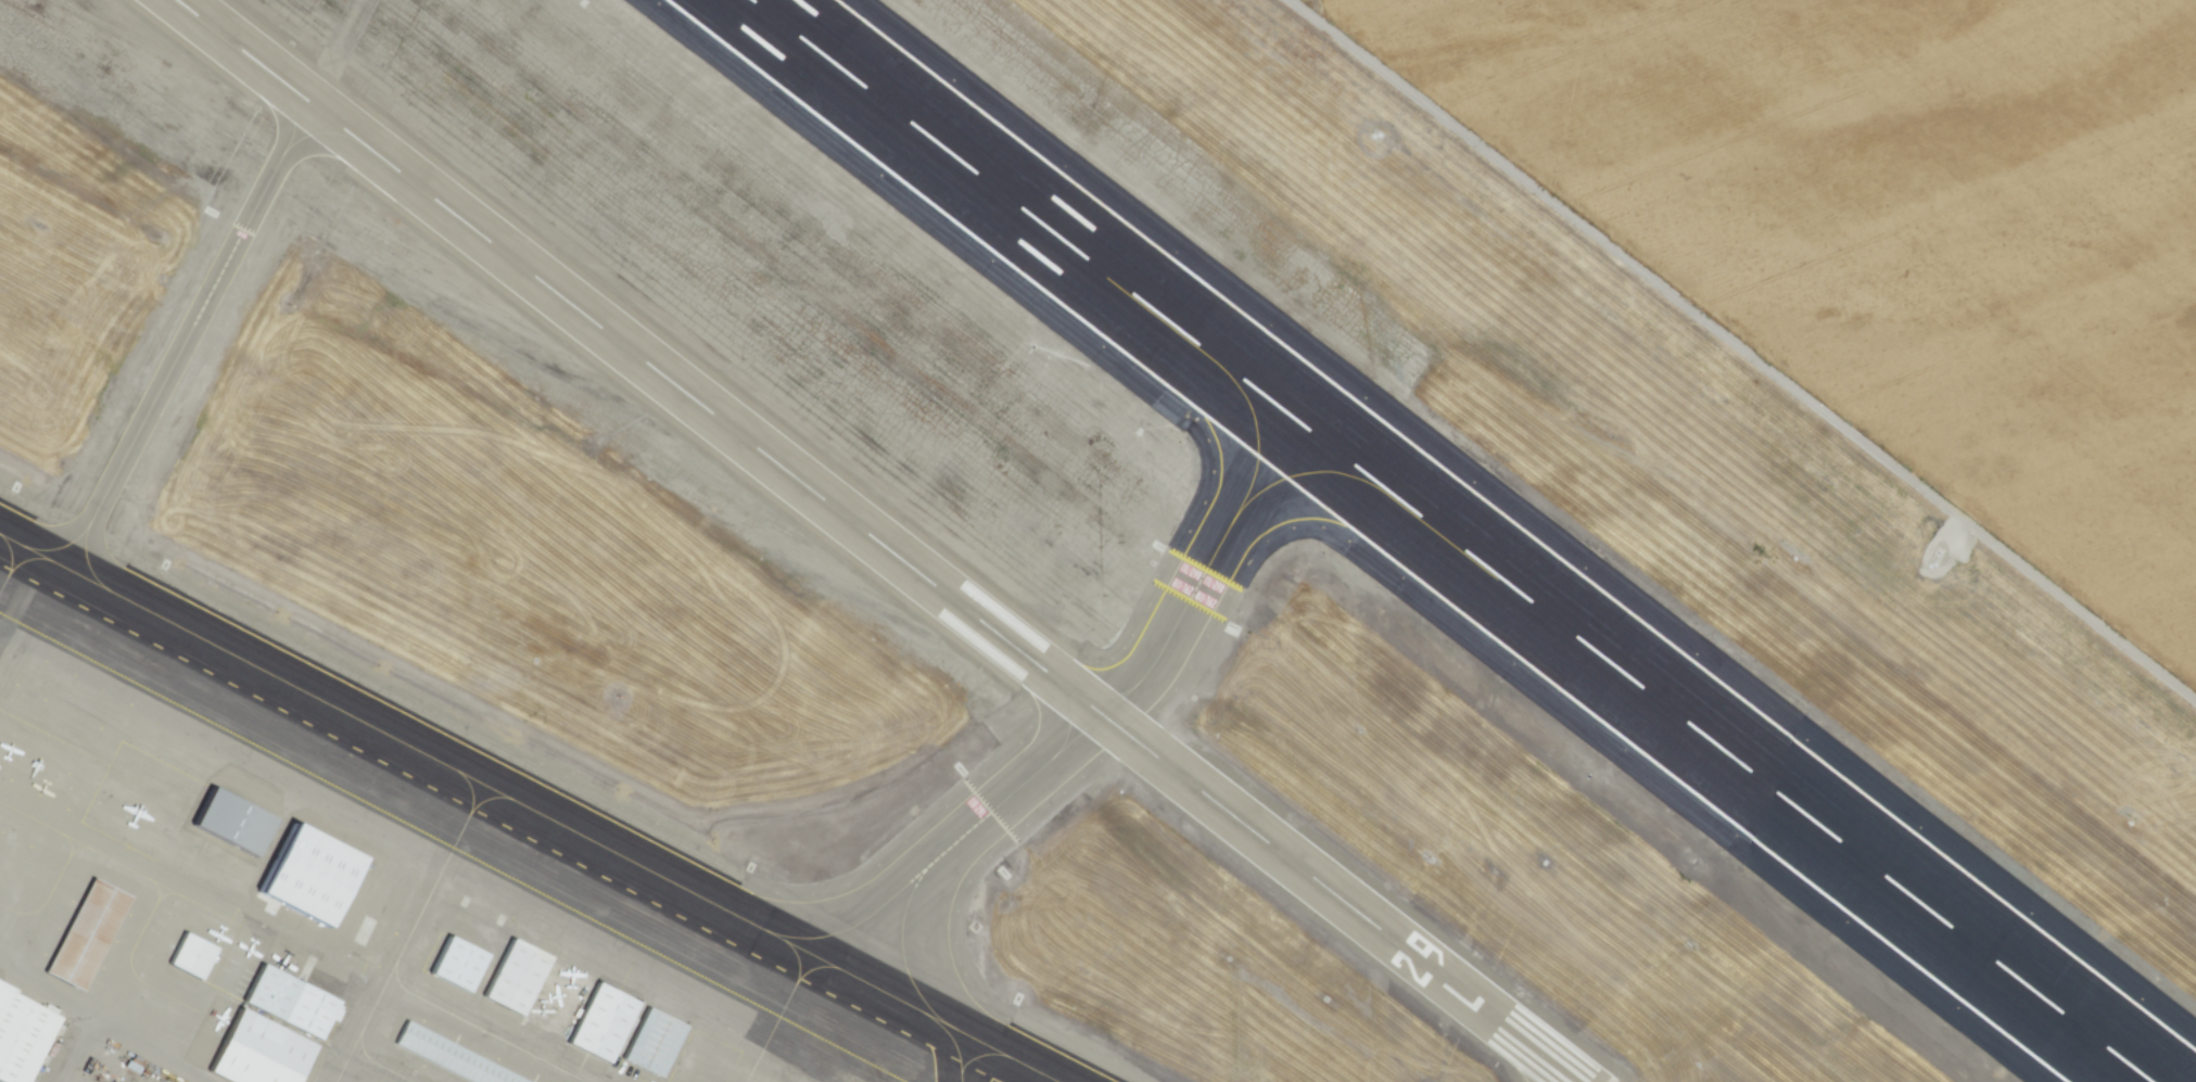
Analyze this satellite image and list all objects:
airport taxiway: (291, 112)
crop: (1799, 313)
airport taxiway: (188, 331)
airport taxiway: (1310, 471)
airport runway: (875, 540)
airport runway: (1450, 540)
airport taxiway: (86, 562)
airport taxiway: (8, 571)
airport taxiway: (3, 580)
airport: (872, 612)
airport taxiway: (1165, 638)
airport taxiway: (1052, 677)
airport taxiway: (53, 737)
airport taxiway: (526, 809)
airport taxiway: (469, 811)
building: (223, 822)
airport taxiway: (43, 826)
airport taxiway: (69, 844)
airport taxiway: (101, 855)
building: (300, 879)
airport taxiway: (156, 898)
airport apron: (321, 915)
airport taxiway: (860, 920)
building: (77, 931)
airport taxiway: (901, 953)
building: (182, 955)
airport taxiway: (396, 956)
building: (447, 965)
airport taxiway: (130, 969)
building: (506, 978)
airport taxiway: (795, 980)
building: (593, 1022)
airport taxiway: (478, 1029)
building: (263, 1031)
airport taxiway: (769, 1032)
building: (16, 1034)
building: (644, 1042)
airport taxiway: (953, 1044)
airport taxiway: (978, 1055)
building: (449, 1057)
airport taxiway: (1537, 1060)

